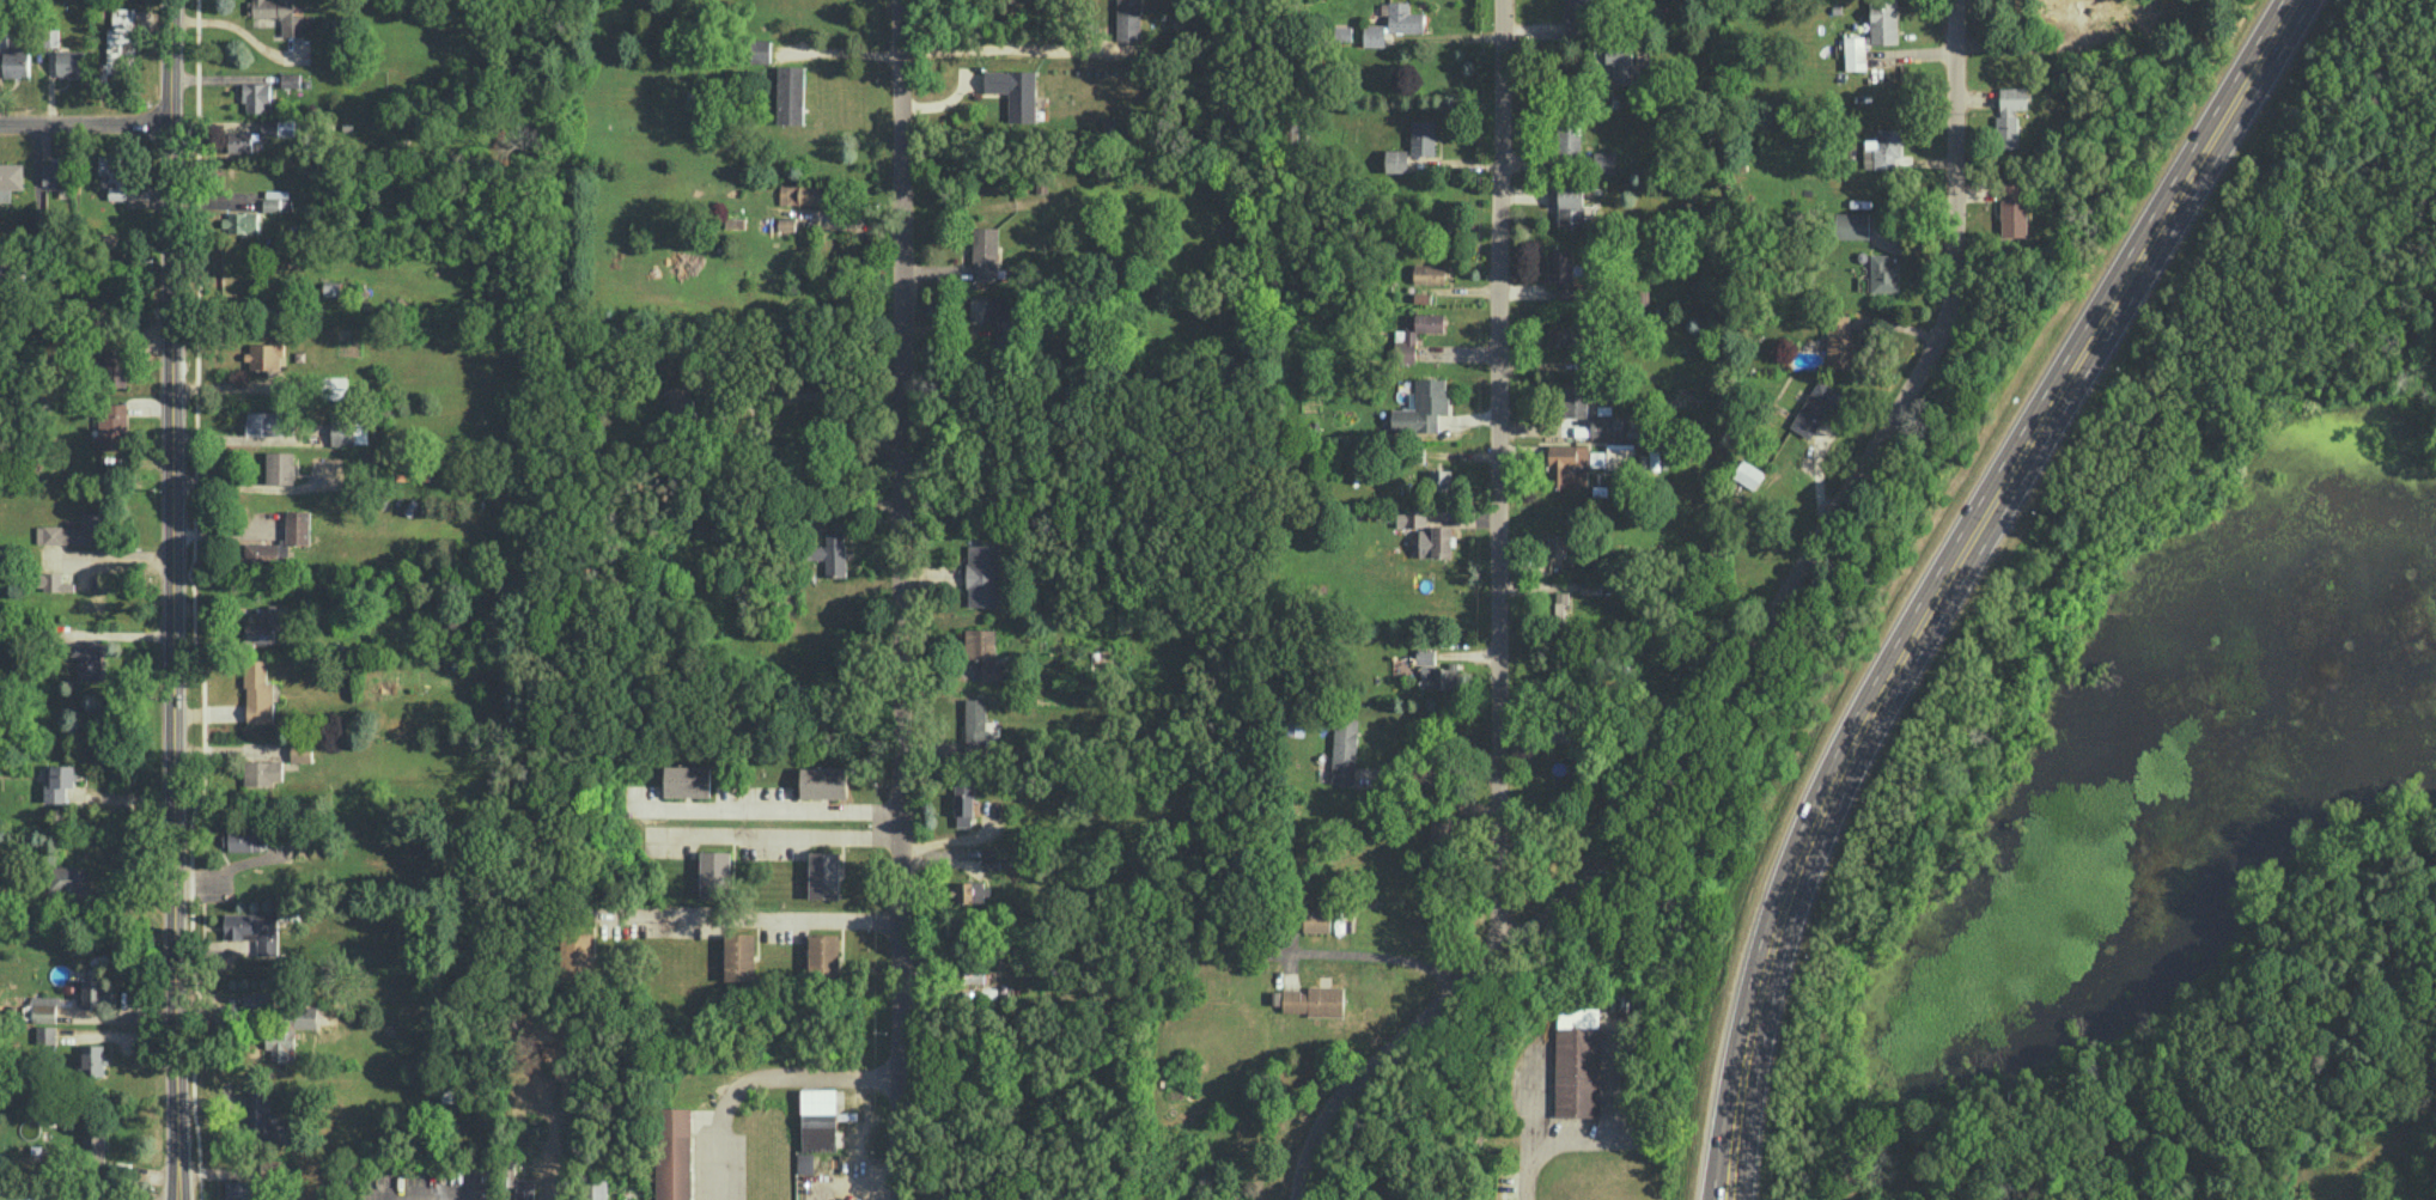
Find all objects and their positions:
building: (280, 14)
building: (1576, 18)
building: (1127, 19)
building: (1883, 22)
building: (1393, 23)
building: (120, 42)
road: (1007, 49)
building: (759, 50)
building: (1855, 51)
building: (16, 62)
building: (71, 62)
building: (290, 79)
building: (1016, 91)
building: (791, 95)
building: (257, 96)
building: (2009, 115)
road: (85, 123)
building: (1423, 136)
building: (1569, 138)
building: (243, 141)
building: (1882, 147)
building: (1396, 159)
building: (1604, 162)
building: (55, 172)
building: (114, 173)
building: (11, 178)
building: (802, 194)
building: (1571, 205)
building: (2012, 207)
building: (242, 220)
building: (1852, 224)
building: (985, 252)
building: (1561, 272)
building: (1429, 273)
building: (1883, 273)
building: (994, 312)
building: (1429, 322)
road: (86, 325)
building: (1560, 335)
building: (1840, 341)
building: (264, 355)
building: (115, 364)
building: (334, 386)
road: (834, 400)
building: (1575, 401)
building: (1423, 407)
building: (1817, 407)
building: (267, 422)
building: (112, 425)
road: (242, 439)
building: (1613, 456)
building: (1658, 457)
building: (1567, 464)
building: (280, 467)
building: (1747, 473)
road: (1500, 476)
building: (1441, 479)
building: (1411, 517)
building: (74, 530)
building: (297, 530)
building: (1435, 541)
building: (1555, 546)
building: (261, 552)
building: (830, 553)
building: (982, 574)
road: (1950, 574)
building: (54, 581)
road: (173, 599)
road: (900, 599)
building: (1559, 605)
building: (266, 625)
road: (1747, 652)
building: (980, 654)
building: (1425, 656)
building: (1439, 676)
building: (258, 693)
building: (975, 724)
building: (1295, 724)
building: (1344, 749)
building: (263, 772)
road: (1430, 773)
building: (687, 780)
building: (823, 781)
road: (765, 806)
road: (775, 834)
building: (243, 839)
building: (67, 879)
building: (968, 891)
road: (741, 919)
building: (1316, 919)
road: (1378, 954)
building: (973, 974)
building: (97, 992)
building: (258, 1000)
road: (124, 1010)
building: (44, 1012)
road: (132, 1027)
building: (288, 1029)
building: (47, 1034)
building: (93, 1059)
building: (1577, 1061)
road: (756, 1073)
building: (266, 1119)
building: (818, 1119)
road: (1529, 1149)
building: (674, 1153)
building: (804, 1162)
building: (597, 1189)
road: (1301, 1193)

